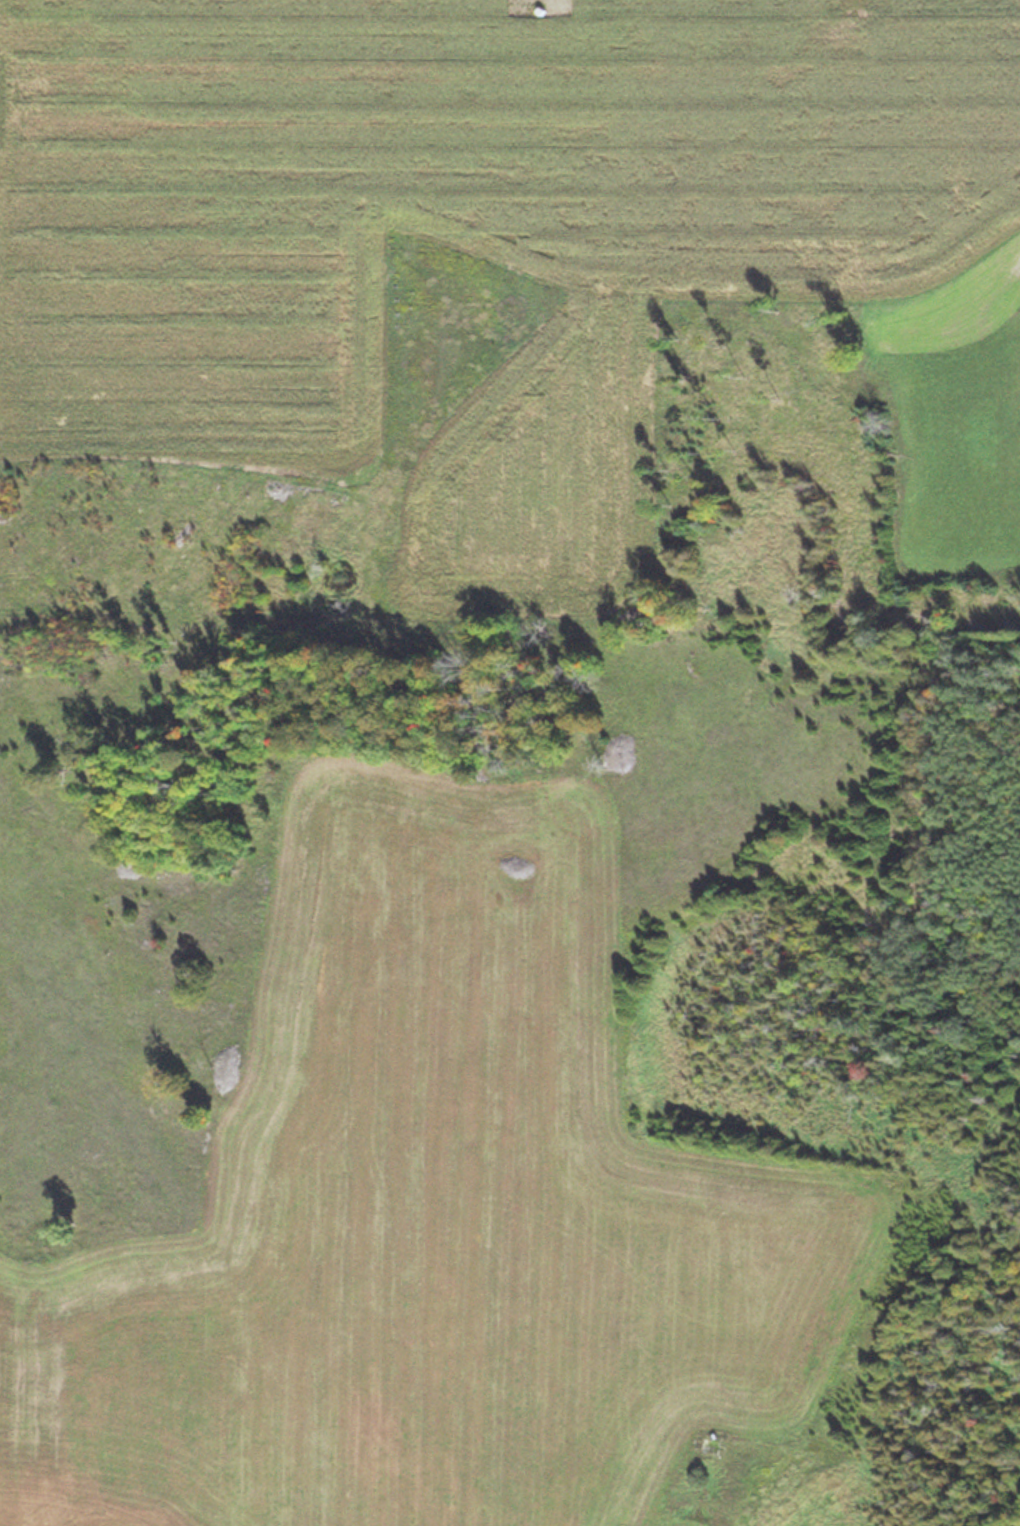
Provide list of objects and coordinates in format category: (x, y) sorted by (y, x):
road: (656, 1518)

